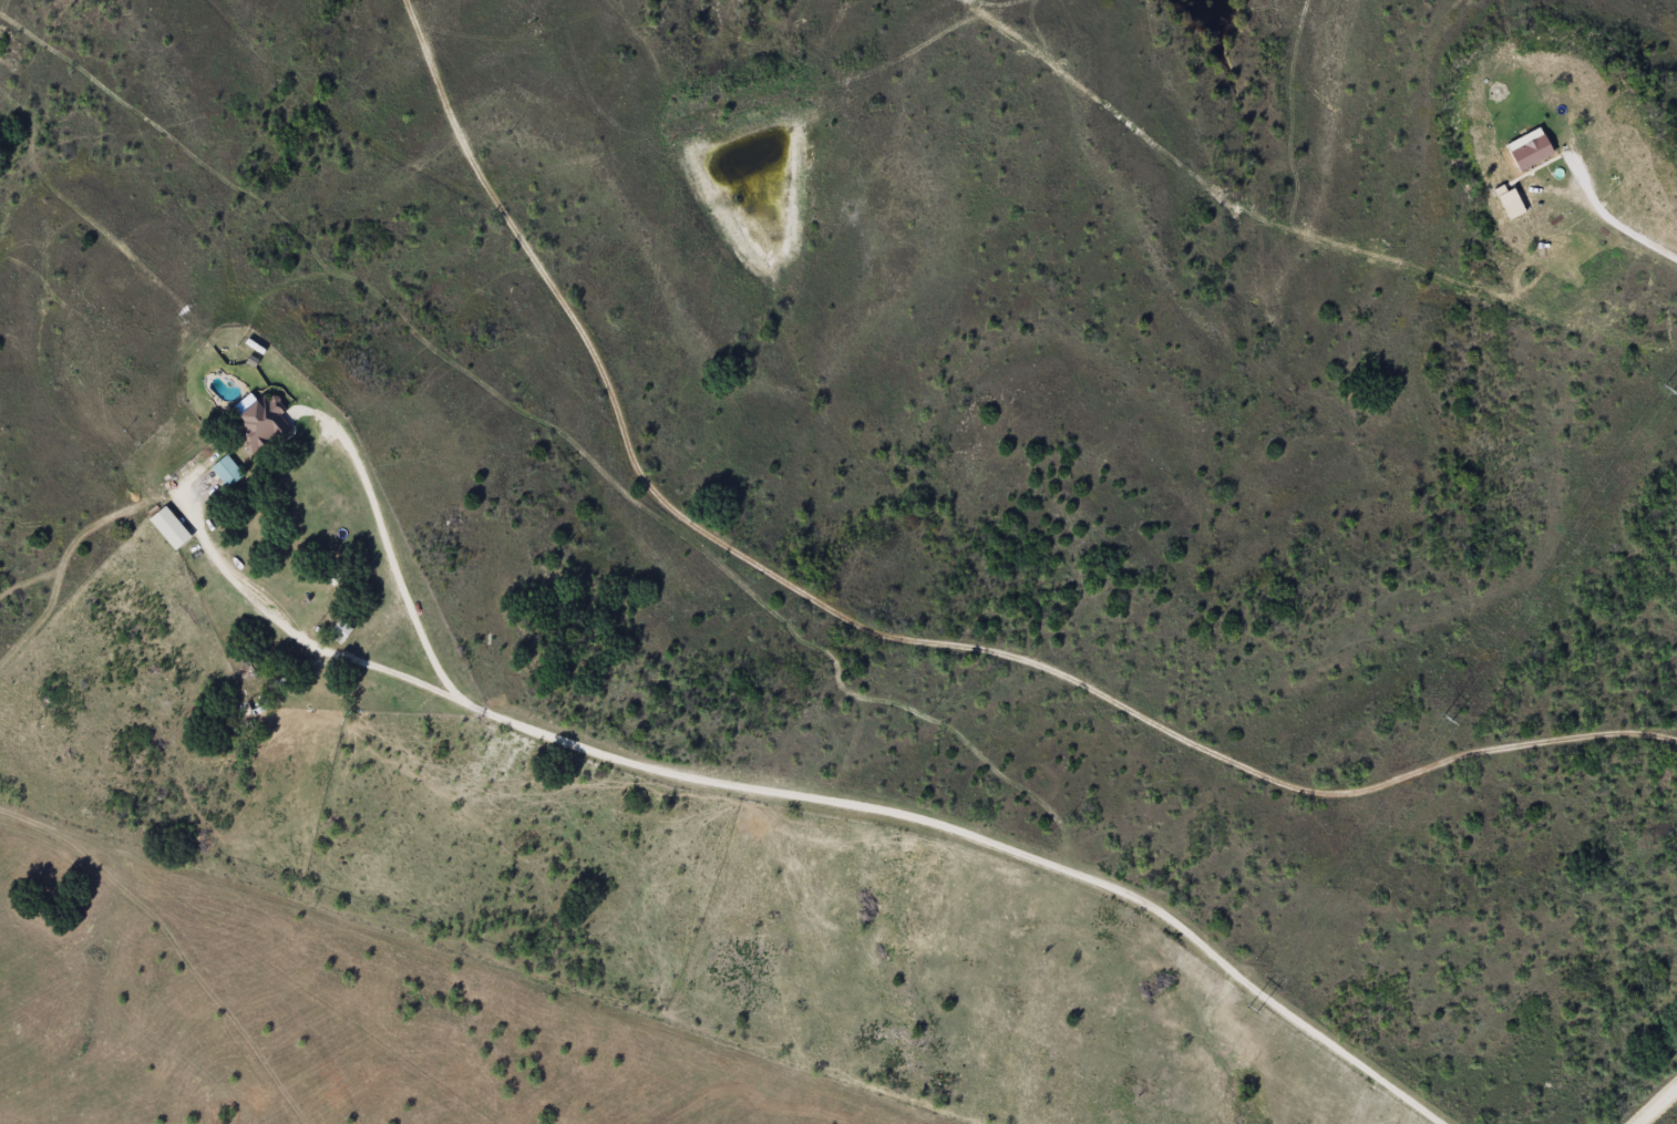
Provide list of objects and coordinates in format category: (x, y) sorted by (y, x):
building: (1523, 146)
power tower: (1666, 389)
building: (263, 424)
building: (173, 527)
road: (765, 543)
building: (332, 564)
building: (342, 630)
power tower: (1444, 718)
road: (1511, 745)
power tower: (1248, 1008)
road: (1661, 1110)

